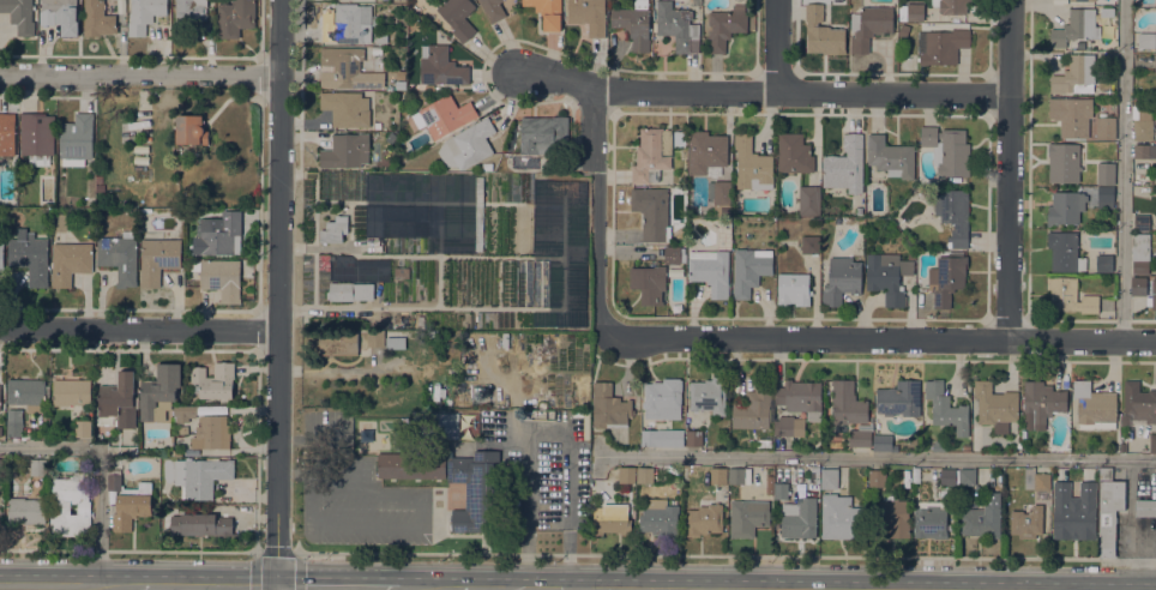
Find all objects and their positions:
building: (1078, 0)
building: (951, 6)
building: (493, 8)
building: (915, 11)
building: (547, 12)
building: (19, 14)
building: (60, 14)
building: (144, 14)
building: (588, 14)
building: (187, 16)
building: (235, 17)
building: (458, 17)
building: (97, 19)
building: (374, 19)
building: (633, 23)
building: (348, 24)
building: (868, 25)
building: (676, 26)
building: (724, 26)
building: (1074, 26)
building: (904, 30)
building: (823, 31)
building: (380, 36)
building: (1146, 40)
road: (777, 44)
building: (941, 46)
building: (377, 50)
road: (157, 56)
road: (260, 56)
building: (377, 61)
building: (1155, 62)
building: (440, 65)
building: (347, 68)
road: (139, 73)
building: (1076, 74)
road: (263, 78)
building: (401, 85)
road: (760, 91)
road: (48, 96)
road: (260, 100)
building: (345, 108)
building: (446, 115)
building: (1071, 115)
building: (1142, 120)
building: (1106, 127)
building: (191, 130)
building: (7, 133)
building: (543, 133)
building: (37, 137)
building: (76, 139)
building: (466, 145)
building: (947, 150)
building: (1144, 150)
building: (345, 151)
building: (705, 151)
building: (794, 152)
building: (651, 153)
building: (890, 156)
building: (1064, 162)
building: (752, 164)
building: (845, 164)
building: (487, 165)
road: (1009, 169)
road: (1122, 170)
building: (1106, 173)
building: (98, 179)
building: (387, 186)
building: (100, 187)
building: (720, 195)
building: (1104, 195)
building: (808, 199)
building: (1065, 206)
road: (598, 211)
building: (652, 212)
building: (504, 213)
building: (953, 215)
building: (59, 222)
building: (1140, 222)
building: (335, 229)
building: (218, 234)
building: (678, 235)
building: (809, 243)
building: (1065, 251)
building: (1140, 252)
building: (672, 254)
building: (1, 255)
building: (30, 255)
building: (119, 257)
building: (158, 258)
building: (70, 260)
building: (1103, 263)
building: (359, 267)
building: (749, 269)
building: (711, 270)
building: (401, 271)
building: (887, 276)
building: (219, 277)
building: (947, 278)
building: (842, 279)
building: (649, 283)
building: (1138, 285)
building: (794, 288)
building: (349, 290)
road: (278, 294)
building: (1070, 296)
building: (1151, 296)
road: (236, 309)
road: (138, 330)
building: (377, 338)
road: (879, 338)
building: (338, 343)
building: (396, 343)
building: (377, 354)
road: (872, 359)
building: (215, 379)
building: (71, 391)
building: (159, 391)
building: (26, 392)
building: (709, 395)
building: (799, 395)
building: (662, 398)
building: (899, 398)
building: (1043, 399)
building: (116, 402)
building: (995, 403)
building: (1139, 403)
building: (754, 405)
building: (609, 407)
building: (1095, 407)
building: (946, 408)
building: (851, 411)
building: (185, 413)
building: (14, 422)
building: (435, 425)
building: (789, 426)
building: (82, 427)
building: (182, 429)
building: (210, 432)
road: (547, 432)
building: (662, 437)
building: (693, 437)
road: (312, 440)
building: (883, 442)
building: (1152, 442)
building: (763, 444)
building: (939, 446)
building: (965, 446)
building: (1122, 446)
building: (122, 450)
road: (257, 450)
road: (877, 454)
road: (347, 464)
building: (410, 464)
building: (1, 465)
building: (37, 465)
road: (100, 465)
building: (814, 472)
road: (301, 474)
building: (627, 474)
building: (644, 474)
building: (718, 475)
building: (739, 475)
building: (200, 476)
building: (947, 476)
building: (967, 476)
building: (829, 477)
building: (877, 477)
building: (1042, 481)
building: (164, 488)
road: (420, 489)
building: (781, 489)
building: (476, 490)
building: (127, 500)
building: (70, 505)
building: (1145, 507)
building: (1108, 508)
building: (25, 510)
building: (1073, 510)
building: (893, 514)
building: (660, 517)
building: (747, 517)
building: (799, 517)
building: (839, 517)
building: (983, 517)
building: (610, 519)
building: (704, 519)
building: (1026, 520)
building: (929, 522)
building: (200, 523)
road: (255, 549)
road: (276, 552)
road: (299, 552)
road: (728, 555)
road: (49, 585)
road: (138, 585)
road: (225, 585)
traffic signals: (277, 586)
road: (329, 586)
road: (403, 588)
road: (475, 588)
road: (546, 589)
road: (648, 589)

